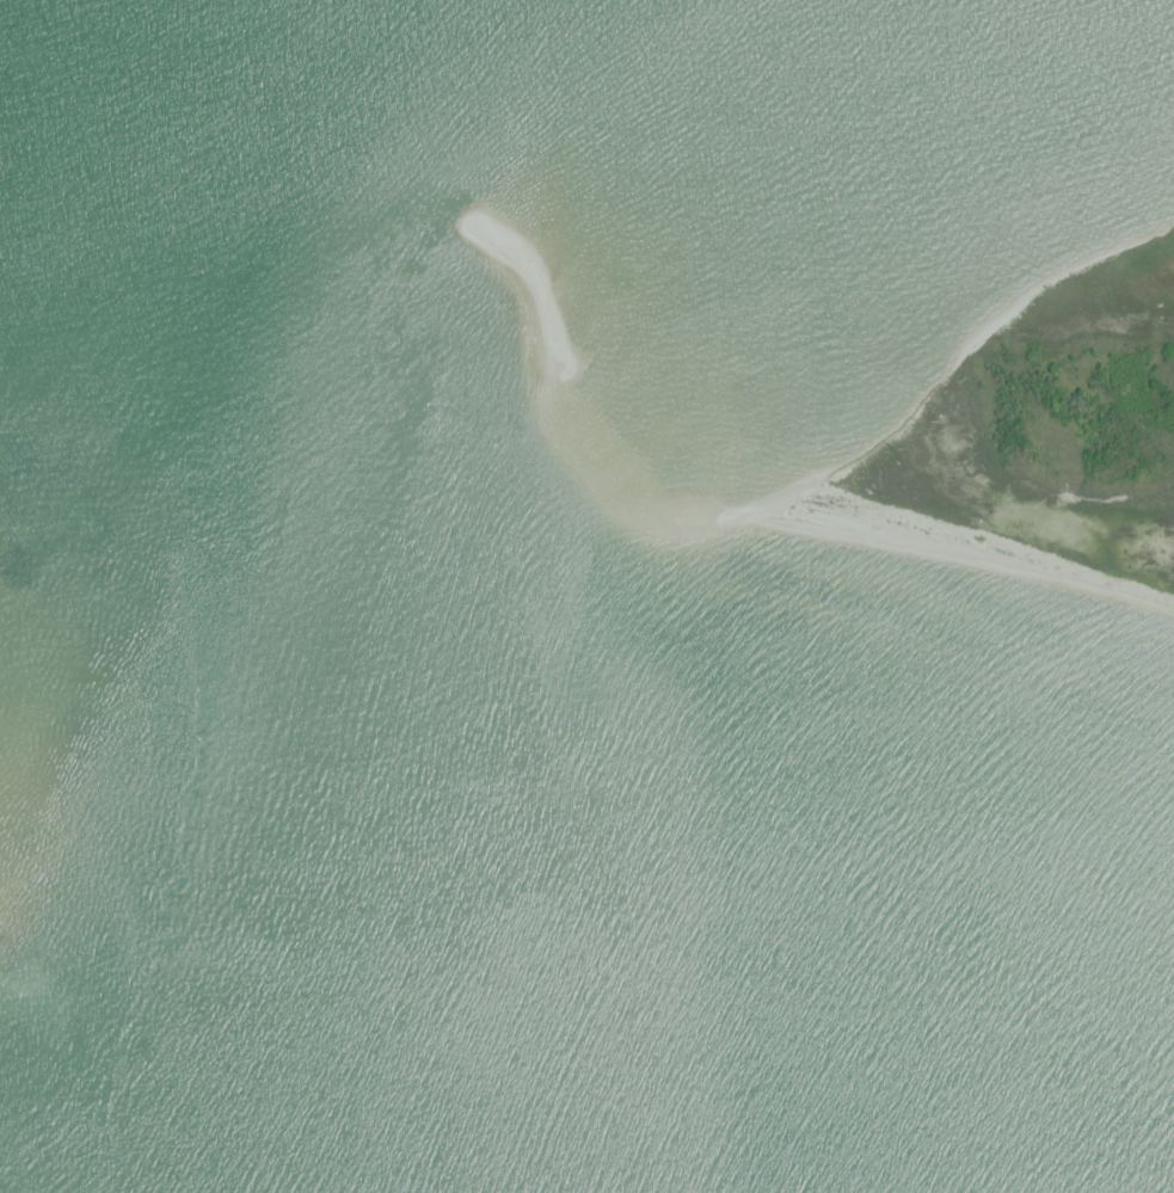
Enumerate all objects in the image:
building: (616, 130)
building: (585, 152)

